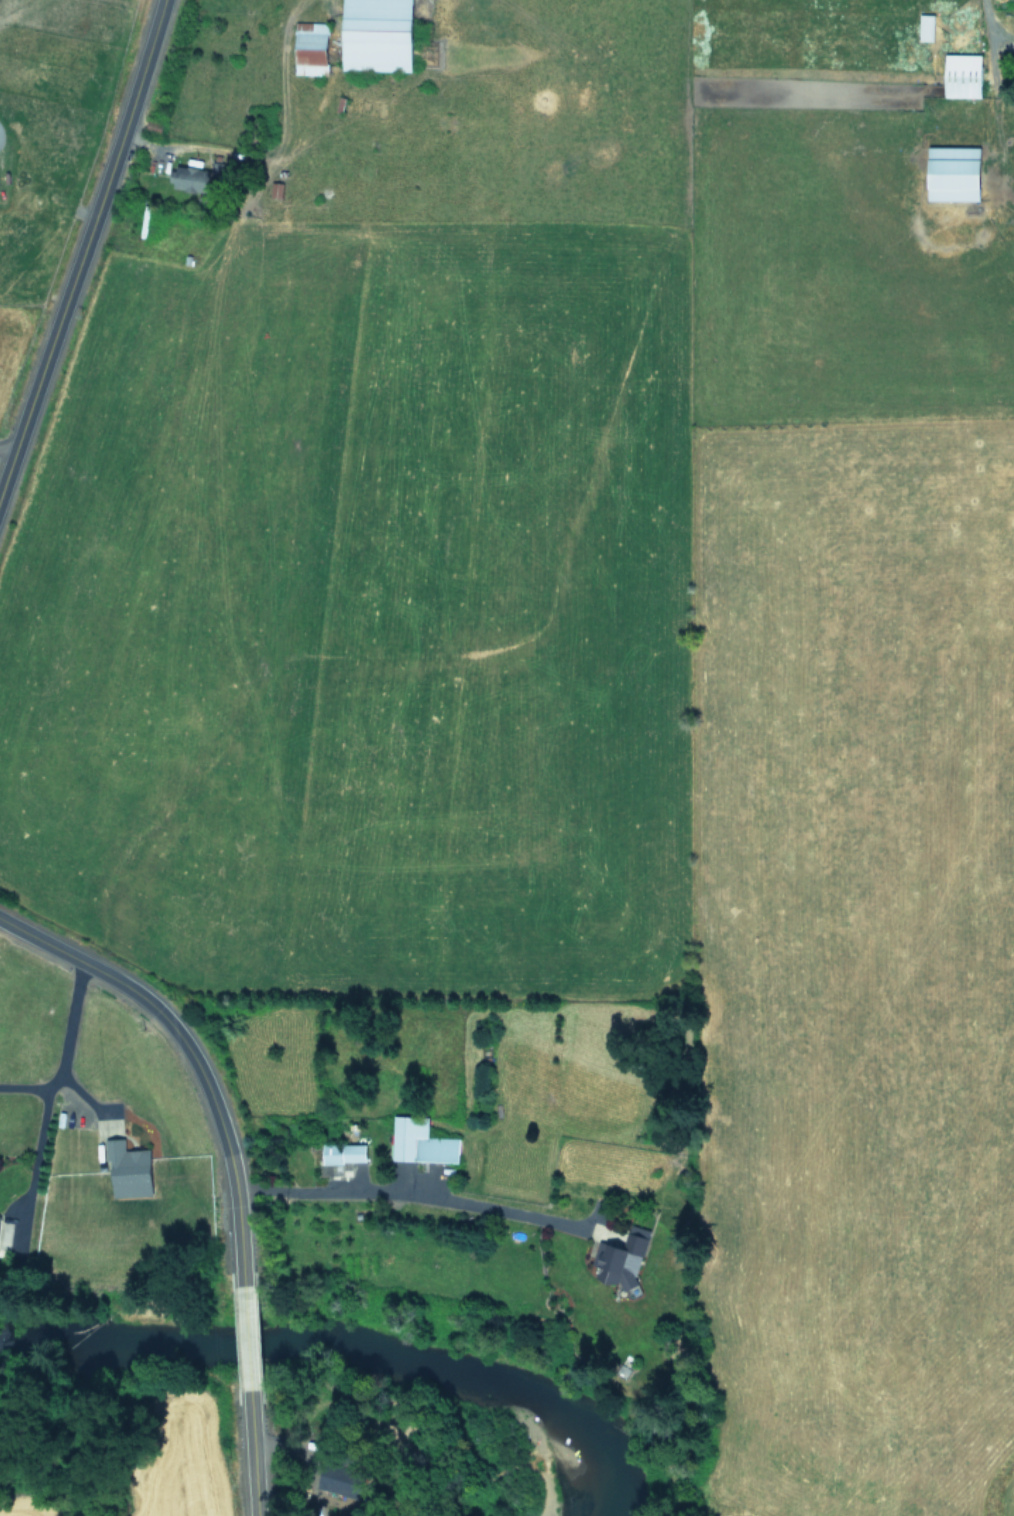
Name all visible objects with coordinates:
road: (989, 23)
building: (924, 27)
building: (373, 35)
building: (308, 48)
building: (960, 75)
crop: (33, 106)
building: (950, 173)
building: (187, 179)
road: (72, 225)
road: (0, 448)
crop: (577, 685)
road: (184, 1057)
road: (48, 1086)
road: (23, 1089)
crop: (82, 1125)
building: (418, 1141)
building: (341, 1152)
building: (126, 1170)
road: (409, 1192)
building: (620, 1257)
road: (240, 1341)
road: (244, 1458)
crop: (133, 1473)
building: (338, 1480)

